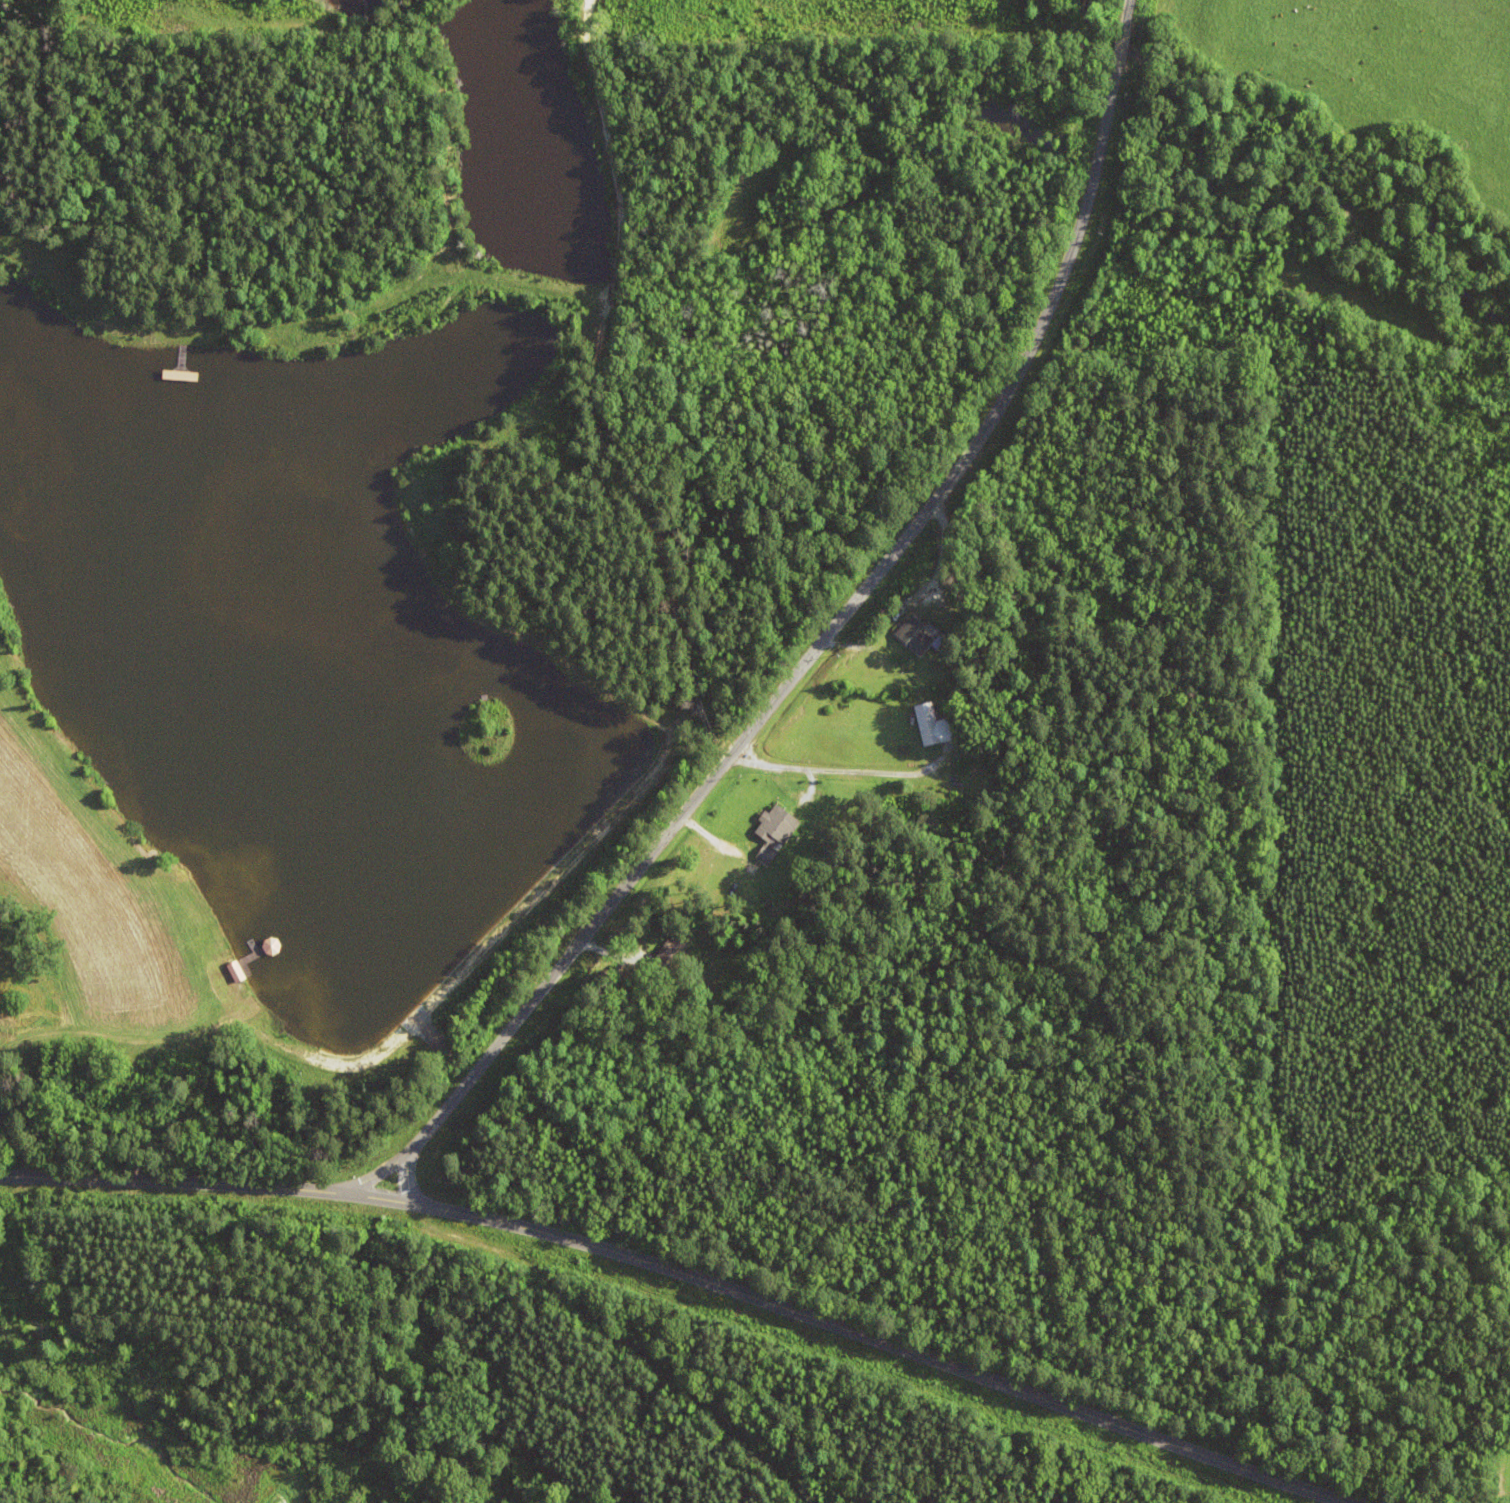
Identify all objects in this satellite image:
road: (830, 633)
road: (392, 1168)
road: (691, 1274)
road: (586, 1354)

